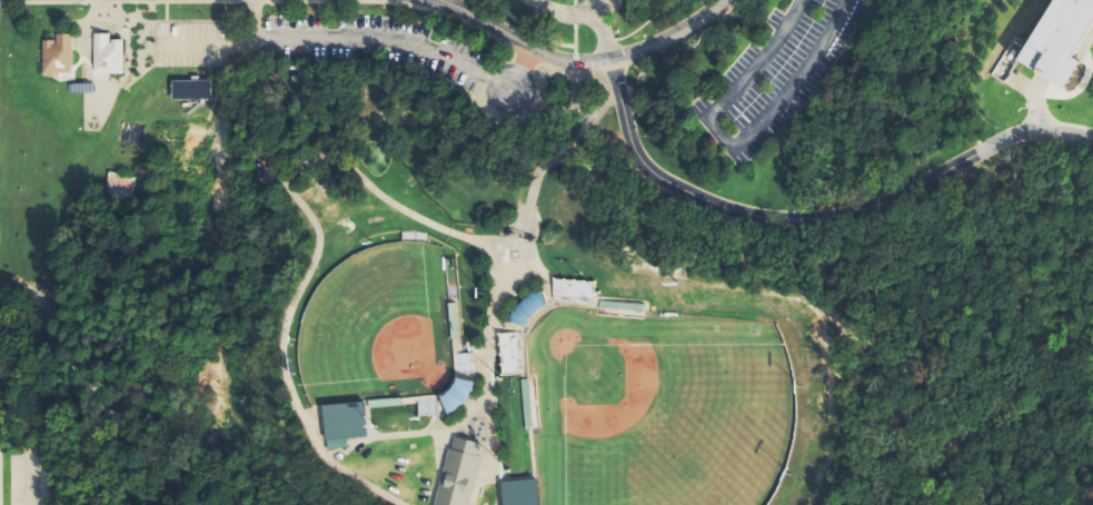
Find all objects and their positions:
road: (446, 6)
road: (596, 6)
road: (457, 7)
road: (573, 16)
road: (81, 26)
road: (572, 34)
road: (603, 34)
road: (364, 39)
building: (1060, 39)
parking lot: (321, 44)
road: (1084, 44)
road: (677, 48)
building: (103, 53)
building: (54, 55)
road: (596, 60)
road: (572, 61)
parking lot: (774, 75)
road: (598, 78)
building: (189, 90)
road: (617, 101)
building: (177, 133)
road: (728, 147)
building: (185, 171)
building: (121, 186)
road: (814, 218)
road: (505, 271)
building: (570, 288)
road: (296, 289)
building: (618, 306)
park: (375, 326)
building: (506, 353)
building: (387, 404)
building: (524, 404)
park: (654, 408)
building: (341, 423)
road: (426, 433)
road: (437, 468)
building: (456, 473)
parking lot: (27, 478)
road: (28, 478)
building: (516, 492)

